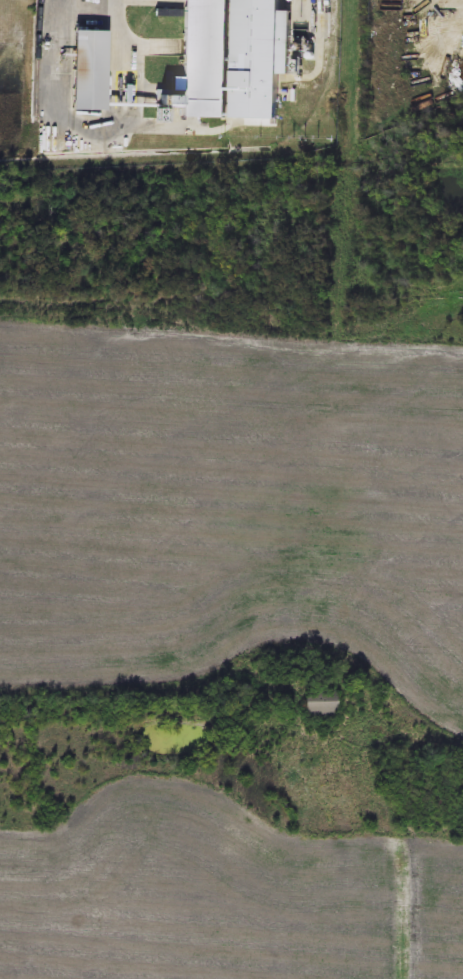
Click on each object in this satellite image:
building: (232, 58)
building: (321, 705)

